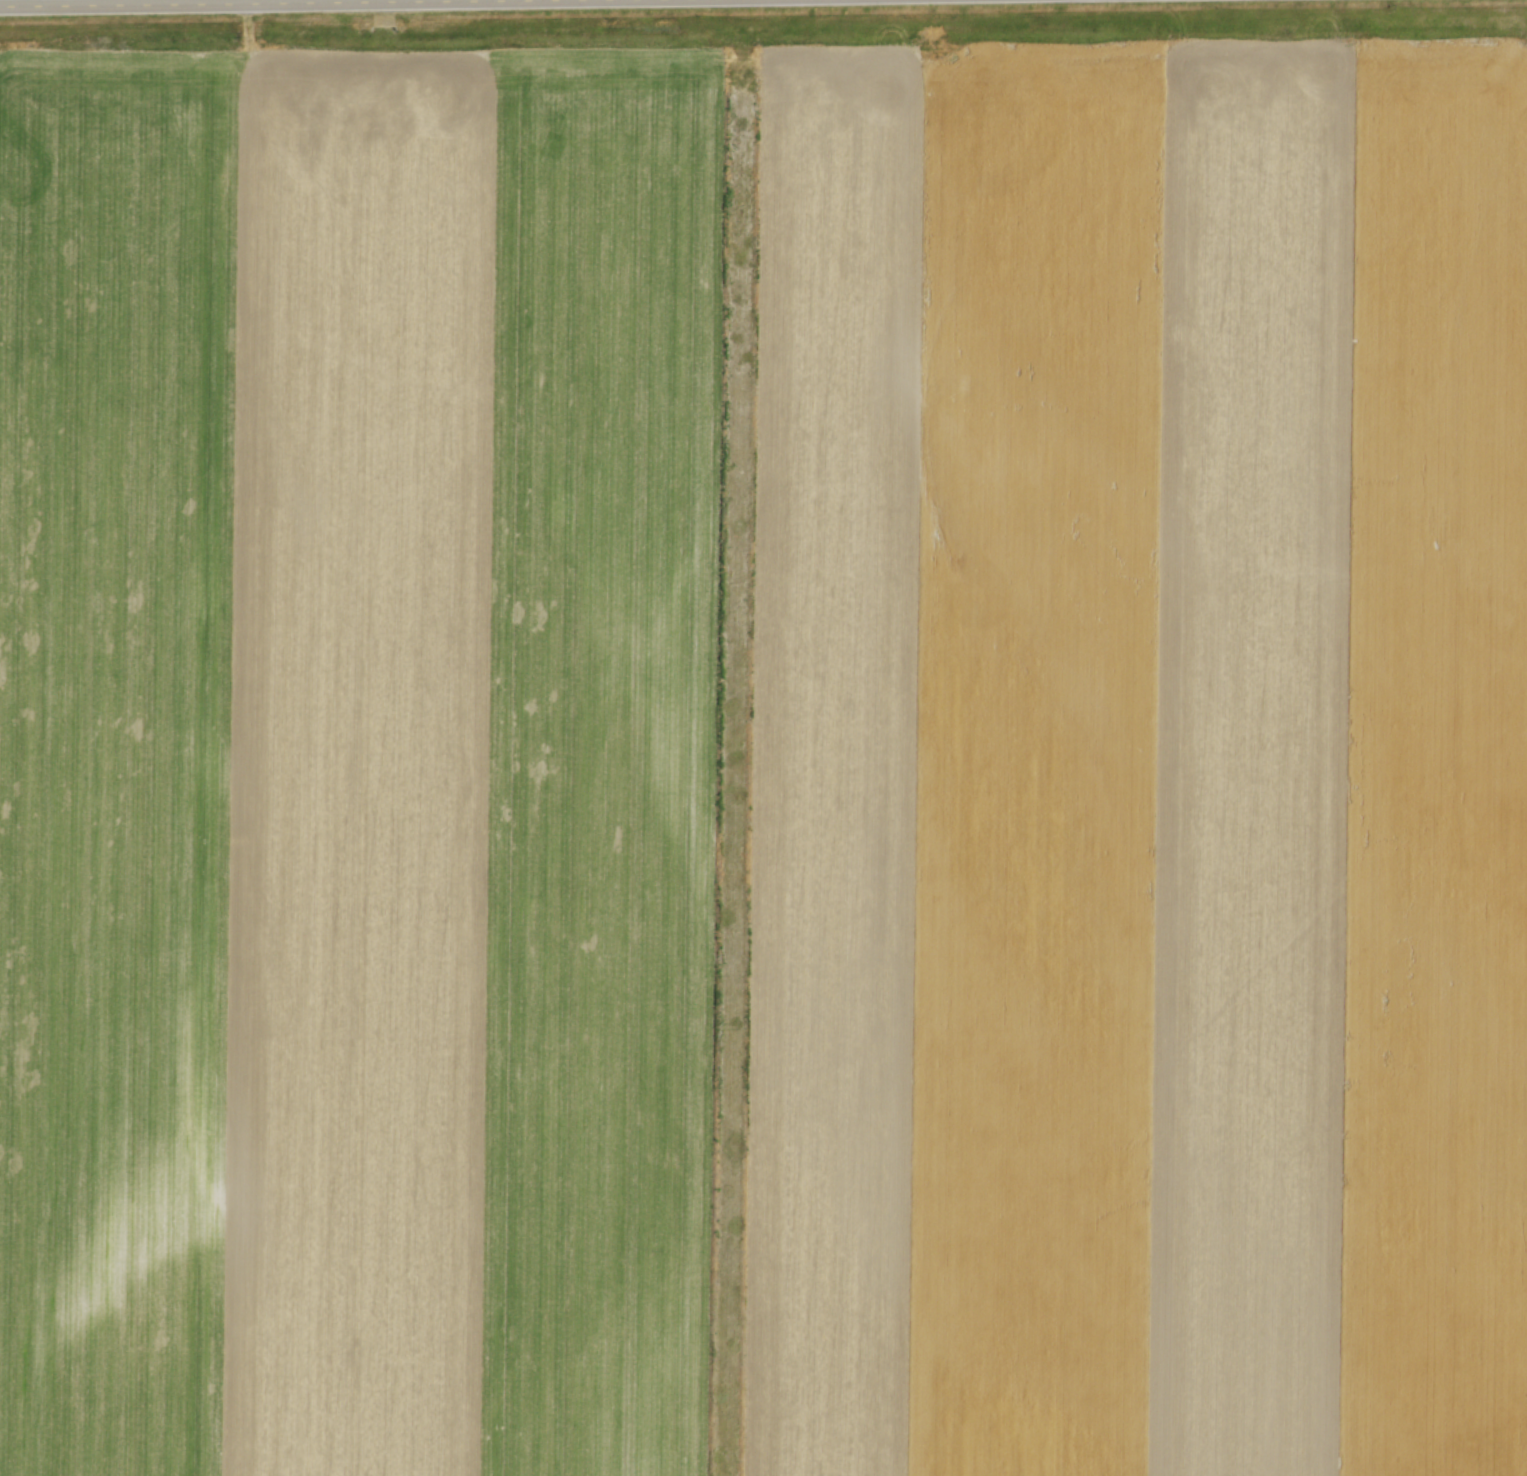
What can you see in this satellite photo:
road: (194, 2)

